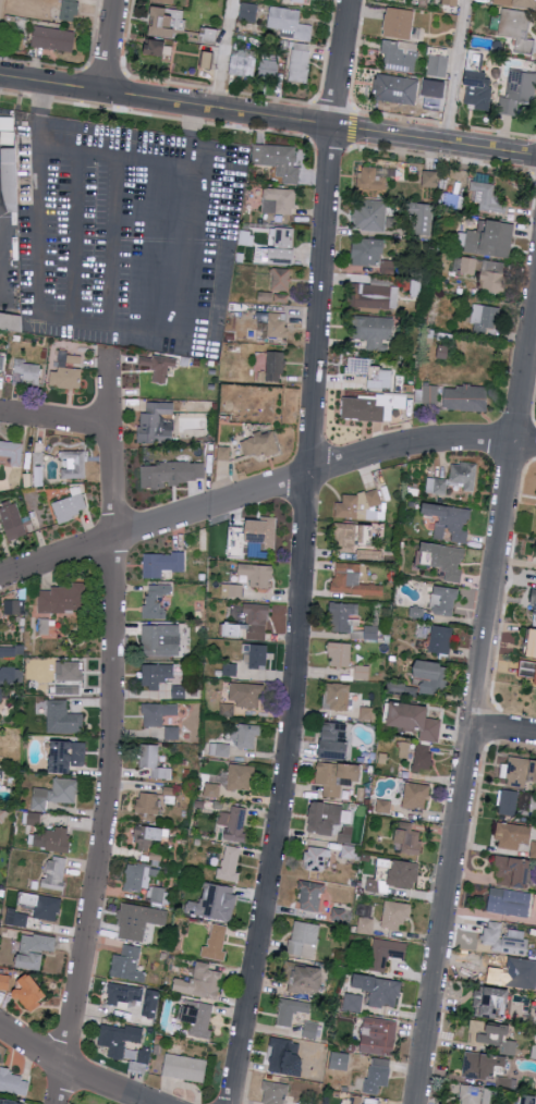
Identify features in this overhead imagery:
building: (301, 0)
building: (167, 1)
building: (452, 2)
building: (517, 2)
building: (70, 10)
building: (248, 11)
building: (168, 21)
building: (290, 22)
building: (400, 22)
building: (516, 27)
building: (53, 38)
road: (109, 46)
building: (157, 48)
building: (243, 52)
road: (222, 54)
building: (399, 56)
building: (208, 59)
building: (300, 62)
building: (438, 65)
building: (242, 66)
building: (268, 70)
road: (456, 71)
building: (395, 88)
building: (478, 88)
building: (517, 90)
road: (233, 94)
road: (268, 115)
road: (390, 115)
road: (351, 128)
building: (278, 160)
building: (375, 176)
building: (430, 179)
building: (487, 197)
building: (279, 200)
road: (1, 208)
building: (370, 214)
building: (423, 218)
road: (3, 230)
road: (72, 235)
building: (490, 238)
road: (110, 241)
building: (282, 245)
building: (373, 255)
road: (0, 269)
building: (486, 272)
building: (281, 279)
building: (375, 296)
building: (273, 297)
building: (485, 318)
building: (12, 323)
building: (277, 324)
road: (151, 329)
building: (373, 330)
building: (1, 363)
building: (159, 366)
building: (276, 366)
building: (26, 372)
building: (371, 372)
building: (65, 378)
building: (427, 394)
building: (467, 397)
building: (370, 406)
road: (56, 421)
building: (157, 421)
building: (260, 444)
building: (12, 452)
building: (223, 453)
building: (74, 464)
building: (171, 474)
building: (454, 479)
road: (264, 490)
building: (71, 504)
building: (358, 505)
building: (12, 520)
building: (450, 522)
building: (253, 537)
road: (306, 553)
building: (446, 560)
building: (163, 563)
building: (257, 575)
building: (353, 580)
building: (62, 599)
building: (157, 599)
building: (444, 600)
building: (14, 606)
building: (534, 608)
building: (342, 616)
building: (257, 621)
building: (233, 630)
building: (161, 639)
building: (441, 639)
building: (534, 645)
building: (11, 651)
building: (339, 654)
building: (256, 657)
building: (528, 670)
building: (70, 671)
building: (362, 672)
building: (11, 675)
building: (157, 675)
building: (434, 677)
building: (69, 689)
building: (1, 694)
building: (247, 695)
building: (338, 696)
road: (475, 700)
building: (227, 709)
building: (158, 713)
building: (63, 717)
building: (416, 720)
road: (111, 729)
building: (172, 732)
road: (503, 734)
building: (247, 736)
building: (336, 741)
building: (220, 750)
building: (69, 756)
building: (423, 757)
building: (153, 763)
building: (520, 772)
building: (1, 773)
building: (241, 776)
building: (338, 776)
building: (212, 790)
building: (56, 794)
building: (415, 795)
building: (153, 801)
building: (510, 802)
building: (326, 818)
building: (33, 822)
building: (234, 823)
building: (513, 835)
building: (409, 838)
building: (57, 839)
building: (533, 849)
building: (316, 859)
building: (230, 864)
building: (513, 871)
building: (56, 872)
building: (405, 874)
building: (157, 894)
building: (310, 896)
building: (510, 901)
building: (215, 903)
building: (395, 915)
building: (138, 920)
building: (413, 933)
building: (305, 939)
building: (504, 939)
building: (216, 943)
building: (35, 950)
building: (386, 953)
building: (127, 965)
building: (521, 973)
building: (4, 982)
building: (200, 982)
building: (380, 990)
building: (33, 992)
building: (123, 993)
building: (353, 1002)
building: (151, 1003)
building: (495, 1003)
building: (293, 1010)
building: (535, 1013)
building: (200, 1019)
building: (310, 1029)
building: (490, 1033)
building: (379, 1035)
building: (119, 1039)
building: (145, 1055)
building: (287, 1057)
building: (340, 1060)
building: (483, 1066)
building: (185, 1067)
road: (70, 1068)
building: (377, 1076)
building: (13, 1081)
building: (275, 1093)
building: (475, 1094)
building: (352, 1100)
building: (529, 1100)
building: (14, 1101)
building: (0, 1103)

